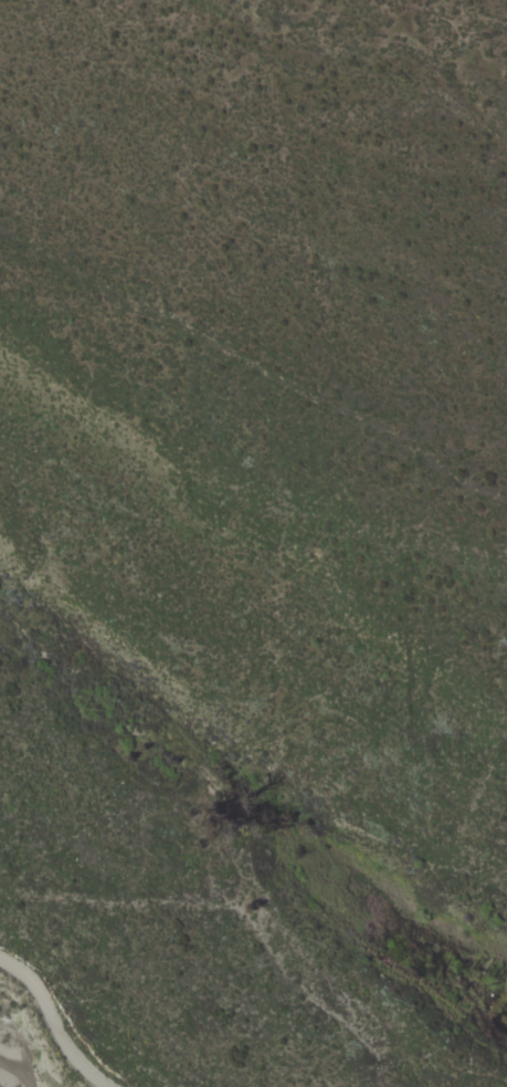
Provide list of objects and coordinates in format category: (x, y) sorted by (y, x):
road: (50, 1024)

